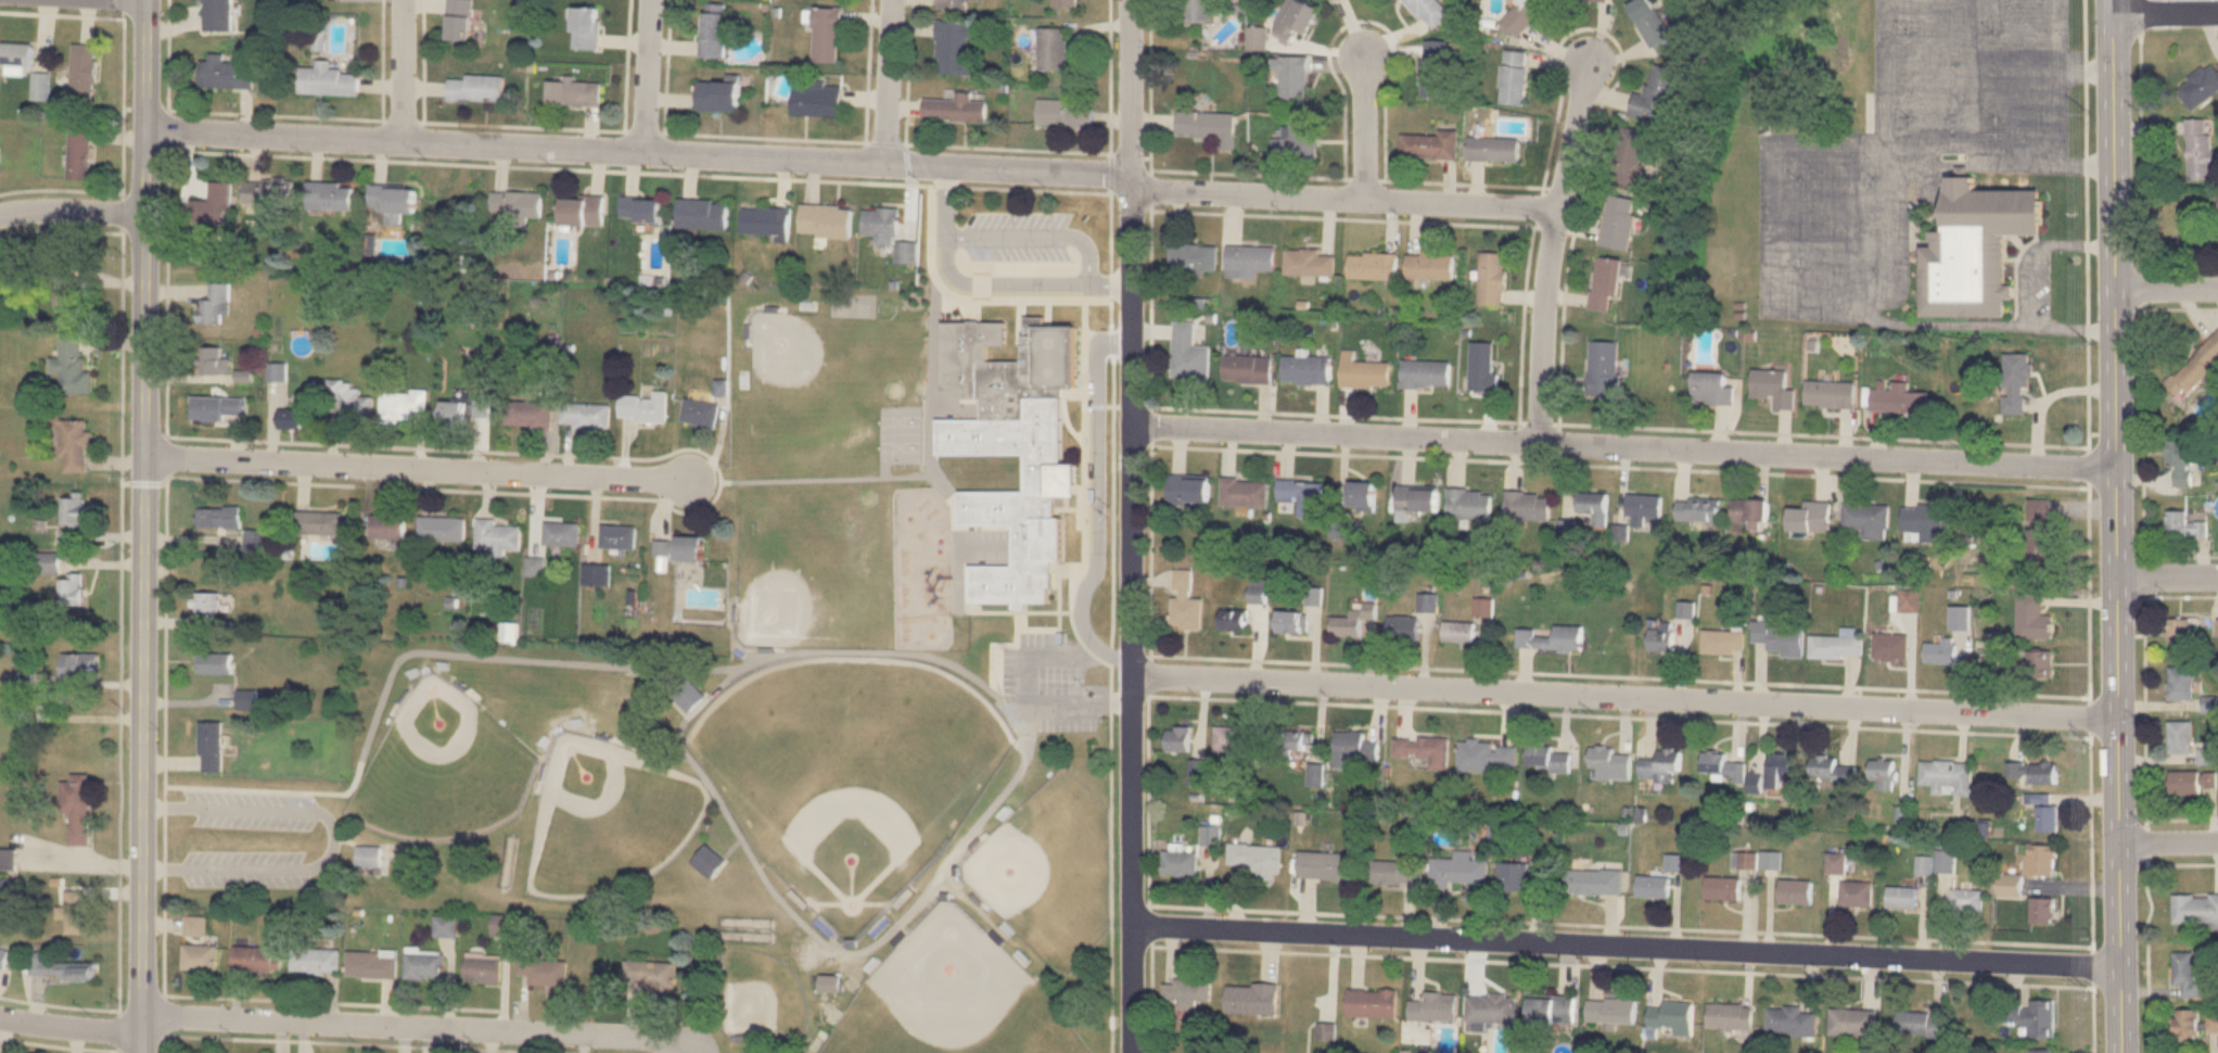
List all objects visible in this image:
road: (443, 0)
building: (1593, 0)
building: (953, 3)
building: (1066, 3)
building: (1197, 11)
building: (1430, 11)
road: (2165, 12)
building: (218, 13)
building: (1522, 13)
road: (176, 16)
building: (458, 18)
building: (1295, 18)
building: (585, 23)
building: (1653, 25)
building: (712, 30)
building: (826, 34)
road: (624, 35)
building: (953, 45)
building: (1055, 51)
building: (16, 59)
road: (2058, 59)
building: (1435, 67)
building: (227, 68)
road: (405, 69)
building: (84, 71)
road: (649, 76)
building: (327, 77)
building: (1515, 77)
road: (381, 78)
building: (1292, 80)
road: (425, 83)
road: (891, 83)
building: (475, 85)
building: (2200, 85)
building: (40, 86)
building: (574, 90)
road: (2112, 91)
building: (1658, 94)
building: (717, 96)
building: (816, 99)
road: (247, 109)
road: (282, 109)
building: (955, 109)
building: (1062, 114)
road: (2058, 116)
road: (530, 122)
road: (591, 126)
building: (1208, 126)
road: (1365, 128)
road: (773, 130)
building: (1297, 139)
road: (1014, 143)
building: (1430, 144)
building: (1494, 148)
building: (2200, 150)
building: (79, 153)
building: (1630, 154)
road: (854, 163)
road: (1913, 166)
building: (268, 191)
building: (329, 195)
building: (391, 199)
building: (515, 203)
building: (214, 204)
building: (582, 210)
building: (640, 210)
road: (74, 212)
building: (701, 213)
building: (765, 220)
building: (825, 220)
building: (1618, 220)
road: (1779, 227)
building: (888, 231)
road: (1020, 236)
road: (2038, 246)
building: (1975, 248)
road: (1552, 252)
building: (1193, 256)
building: (1248, 259)
building: (1308, 262)
building: (1372, 265)
building: (1429, 265)
building: (1492, 278)
road: (996, 281)
building: (1605, 283)
road: (2166, 287)
building: (73, 297)
building: (215, 303)
road: (1879, 319)
road: (2073, 327)
building: (1188, 353)
building: (215, 361)
building: (72, 365)
building: (1482, 366)
building: (1247, 368)
building: (1604, 368)
building: (2195, 368)
park: (816, 369)
building: (1304, 369)
building: (1363, 371)
building: (1425, 373)
building: (2017, 375)
building: (1773, 386)
building: (1712, 388)
building: (1830, 393)
building: (1899, 398)
road: (2052, 398)
building: (350, 399)
building: (401, 404)
building: (643, 407)
building: (217, 408)
building: (699, 413)
building: (528, 414)
building: (585, 415)
building: (290, 417)
park: (903, 430)
building: (75, 444)
road: (1623, 446)
building: (1014, 447)
building: (2182, 460)
road: (419, 467)
building: (1188, 489)
building: (1244, 491)
building: (1361, 493)
building: (1301, 495)
building: (1417, 498)
road: (1095, 503)
building: (1469, 503)
building: (1527, 505)
building: (1594, 506)
building: (1697, 508)
building: (75, 509)
building: (1643, 510)
building: (1750, 511)
building: (219, 516)
building: (1809, 517)
building: (1868, 519)
building: (1927, 519)
building: (318, 522)
road: (1134, 525)
building: (2185, 525)
road: (146, 526)
building: (386, 526)
building: (441, 529)
building: (560, 533)
building: (2041, 533)
building: (496, 534)
building: (617, 536)
building: (253, 538)
building: (678, 548)
building: (47, 562)
building: (534, 567)
park: (817, 568)
road: (2167, 575)
building: (71, 588)
road: (1111, 600)
building: (1427, 600)
building: (1911, 600)
building: (206, 601)
building: (1185, 601)
building: (1686, 609)
building: (2034, 617)
building: (1962, 618)
road: (2116, 618)
building: (1233, 619)
building: (1353, 620)
building: (1290, 621)
building: (1403, 626)
building: (2180, 630)
building: (1458, 632)
building: (1661, 636)
building: (1780, 637)
building: (1551, 638)
building: (1724, 640)
building: (1838, 645)
building: (1892, 647)
building: (1941, 650)
road: (398, 657)
building: (214, 662)
building: (80, 664)
building: (2042, 664)
building: (2182, 683)
building: (34, 684)
building: (688, 694)
road: (1028, 696)
road: (1627, 696)
building: (247, 698)
building: (2181, 736)
building: (1180, 738)
building: (1237, 739)
building: (1293, 743)
building: (1349, 746)
building: (212, 747)
building: (1424, 749)
building: (2207, 754)
building: (1488, 757)
building: (1546, 758)
building: (1609, 762)
building: (1660, 764)
building: (1723, 766)
park: (438, 767)
park: (849, 767)
building: (1781, 767)
building: (1834, 769)
building: (2035, 772)
building: (1198, 773)
building: (1884, 773)
building: (1316, 775)
building: (1949, 775)
building: (2195, 782)
building: (77, 807)
park: (604, 814)
building: (2050, 819)
road: (334, 836)
building: (1211, 836)
road: (2168, 839)
road: (750, 843)
building: (368, 857)
building: (9, 859)
building: (1258, 860)
building: (2042, 860)
building: (1947, 861)
building: (1837, 863)
building: (1181, 864)
building: (1925, 865)
building: (1324, 867)
park: (1049, 868)
building: (1459, 871)
building: (1393, 872)
building: (1522, 877)
building: (1594, 883)
building: (2013, 886)
building: (1654, 887)
building: (1723, 888)
building: (1796, 891)
building: (1857, 893)
building: (1902, 898)
building: (1967, 901)
building: (2195, 909)
building: (76, 912)
building: (2044, 912)
building: (503, 925)
building: (193, 926)
road: (1627, 944)
building: (3, 957)
building: (200, 957)
building: (256, 959)
building: (316, 961)
building: (371, 964)
building: (424, 965)
building: (484, 967)
building: (60, 968)
building: (541, 968)
building: (650, 974)
building: (2188, 974)
building: (830, 984)
building: (1186, 993)
park: (760, 995)
park: (945, 997)
building: (1251, 999)
building: (1372, 1002)
building: (1433, 1006)
building: (1491, 1008)
building: (1551, 1010)
building: (1610, 1011)
building: (1730, 1016)
building: (1672, 1017)
building: (2037, 1019)
building: (1792, 1022)
building: (1852, 1022)
building: (2214, 1022)
building: (1917, 1024)
building: (2189, 1026)
road: (73, 1027)
road: (419, 1027)
building: (2042, 1051)

